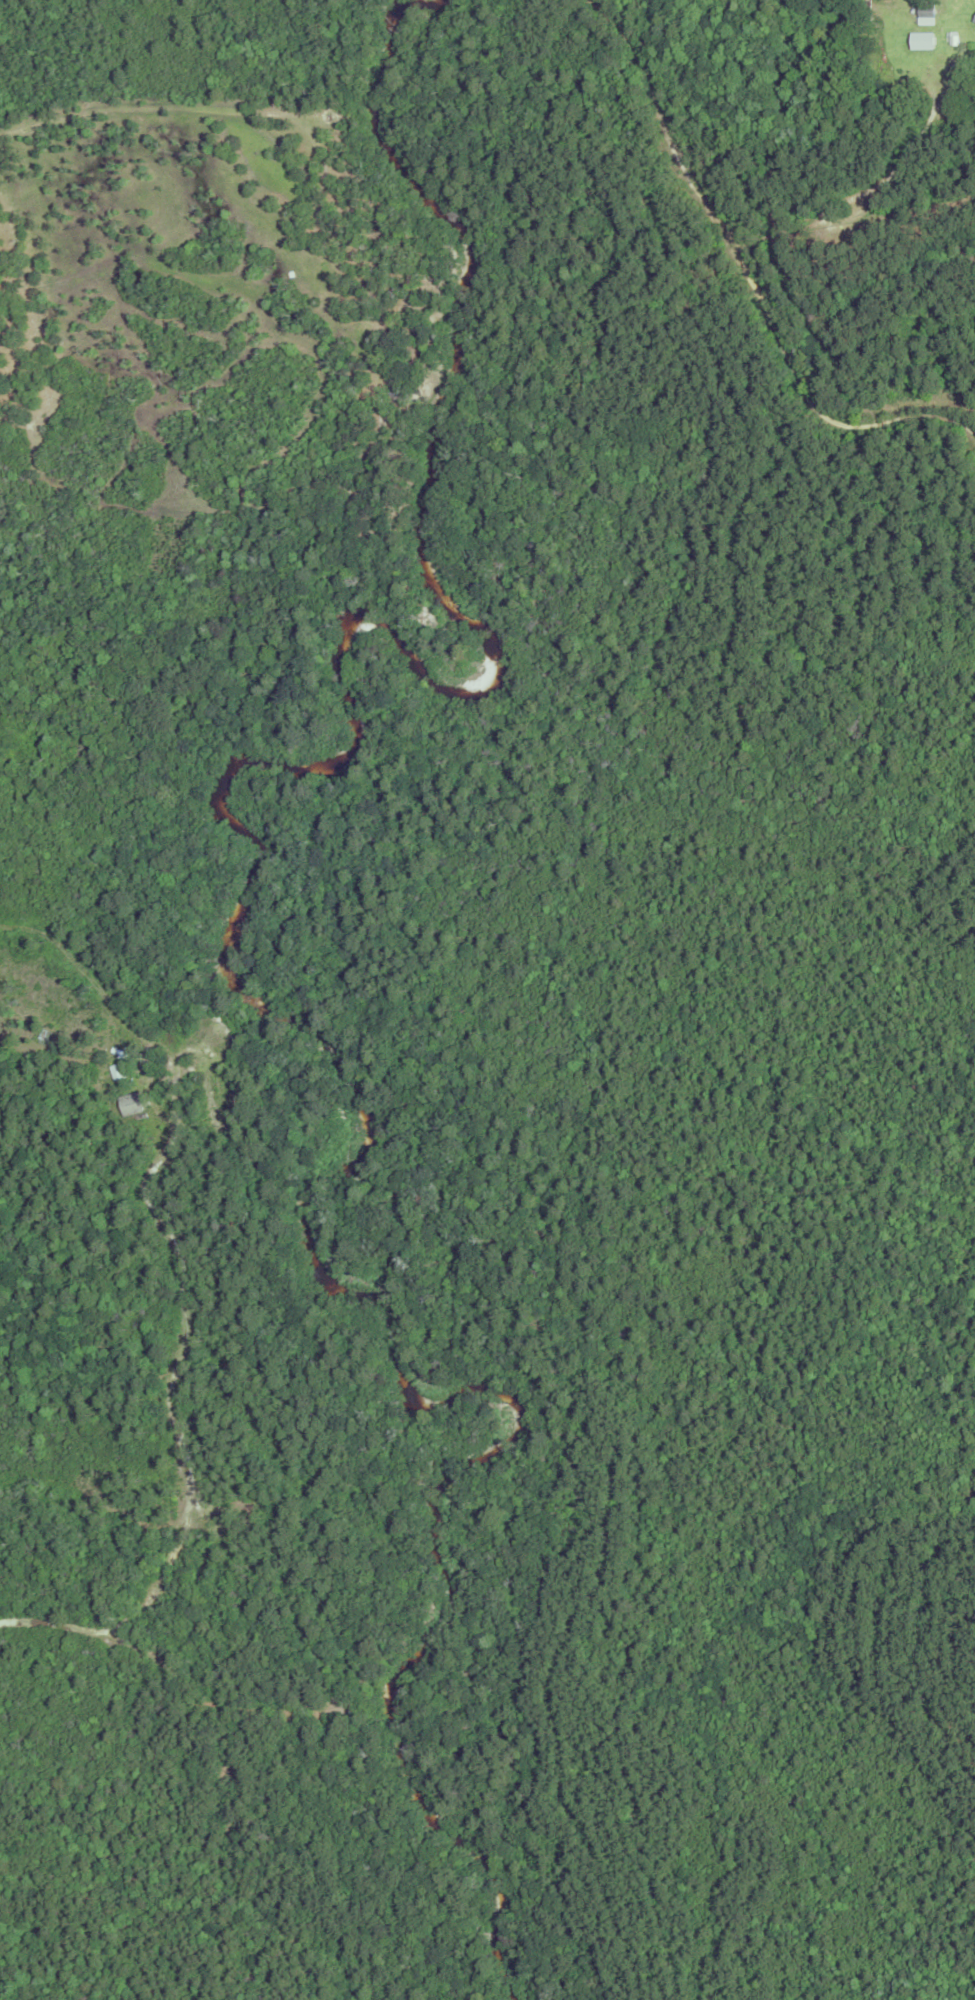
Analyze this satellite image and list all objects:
building: (925, 8)
building: (924, 41)
building: (118, 1066)
building: (133, 1104)
road: (172, 1408)

